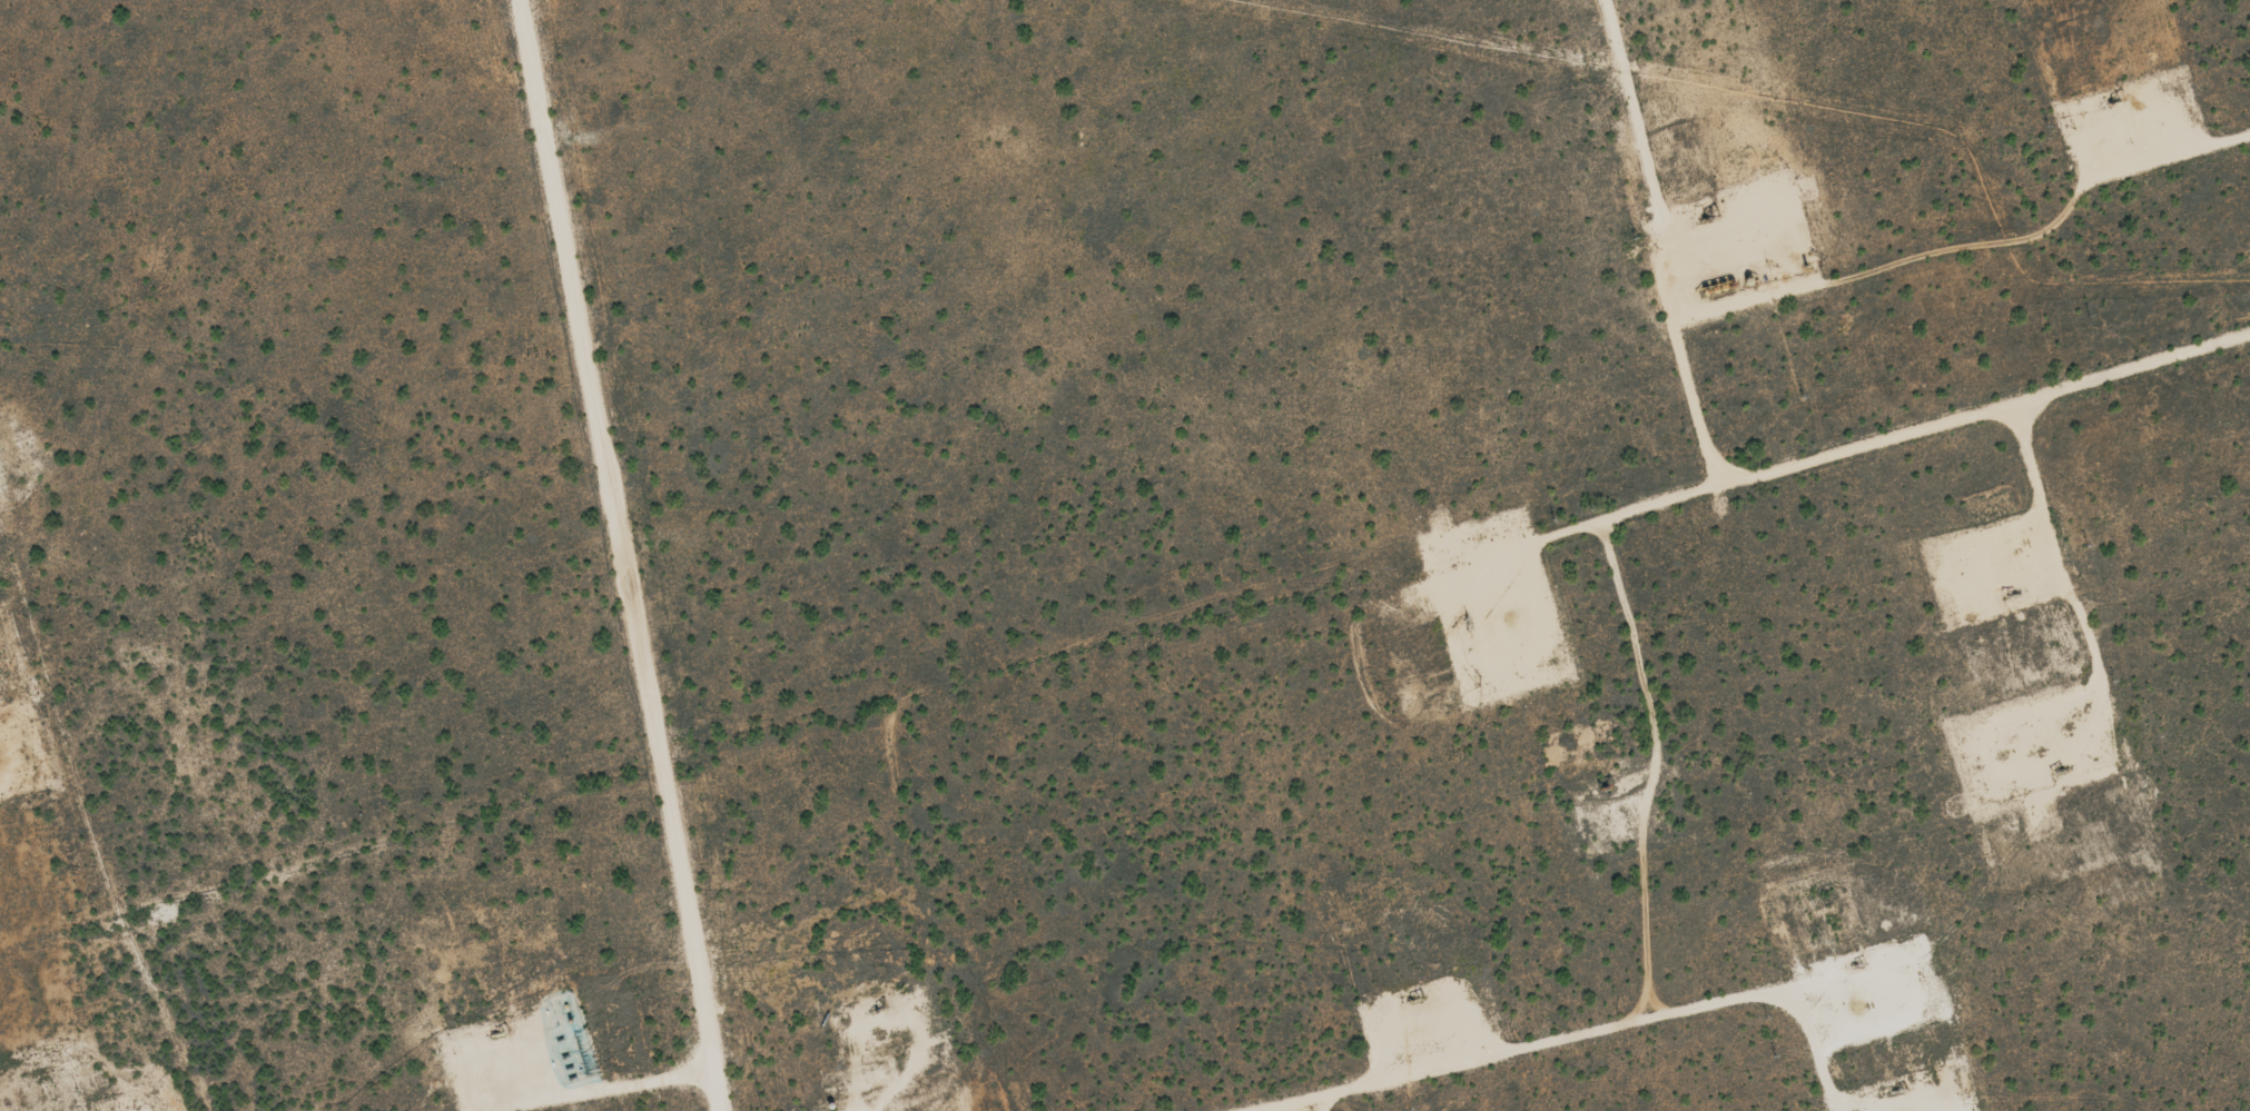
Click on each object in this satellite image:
road: (622, 555)

